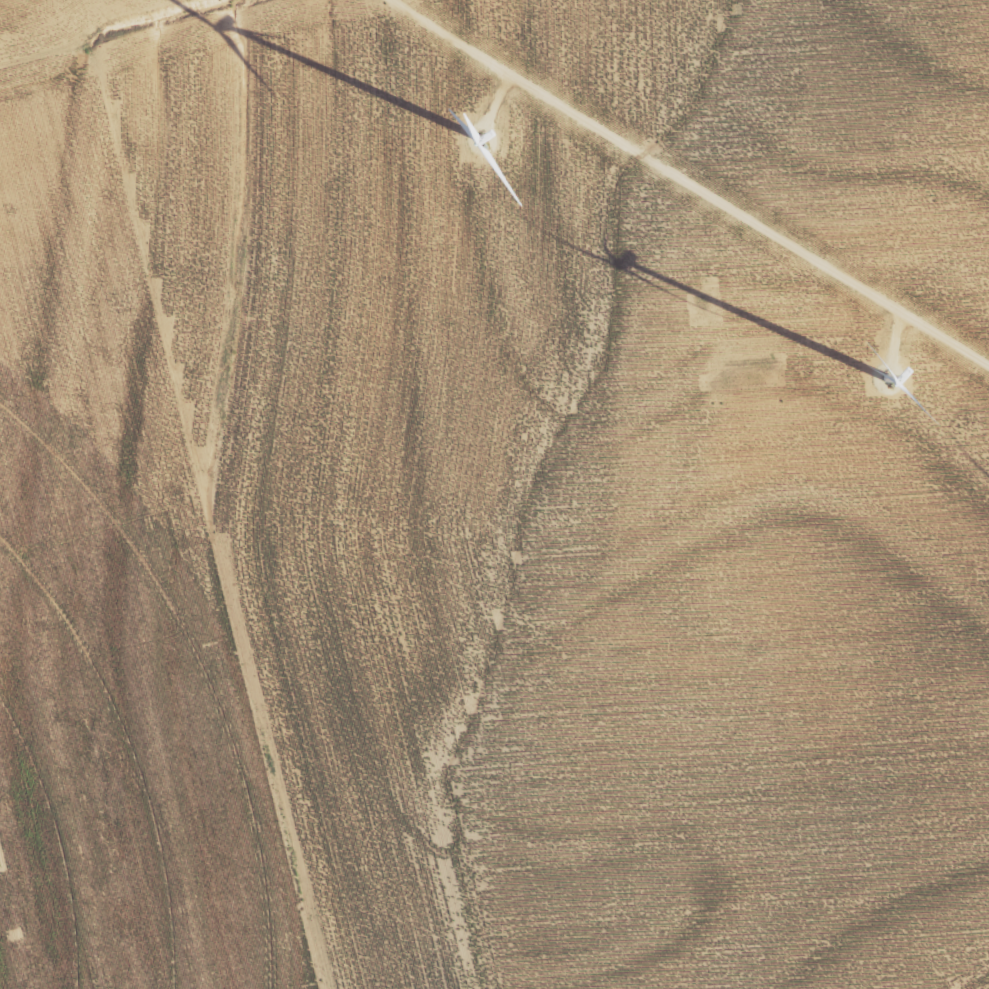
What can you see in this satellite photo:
wind turbine: (476, 131)
road: (689, 184)
wind turbine: (869, 392)

